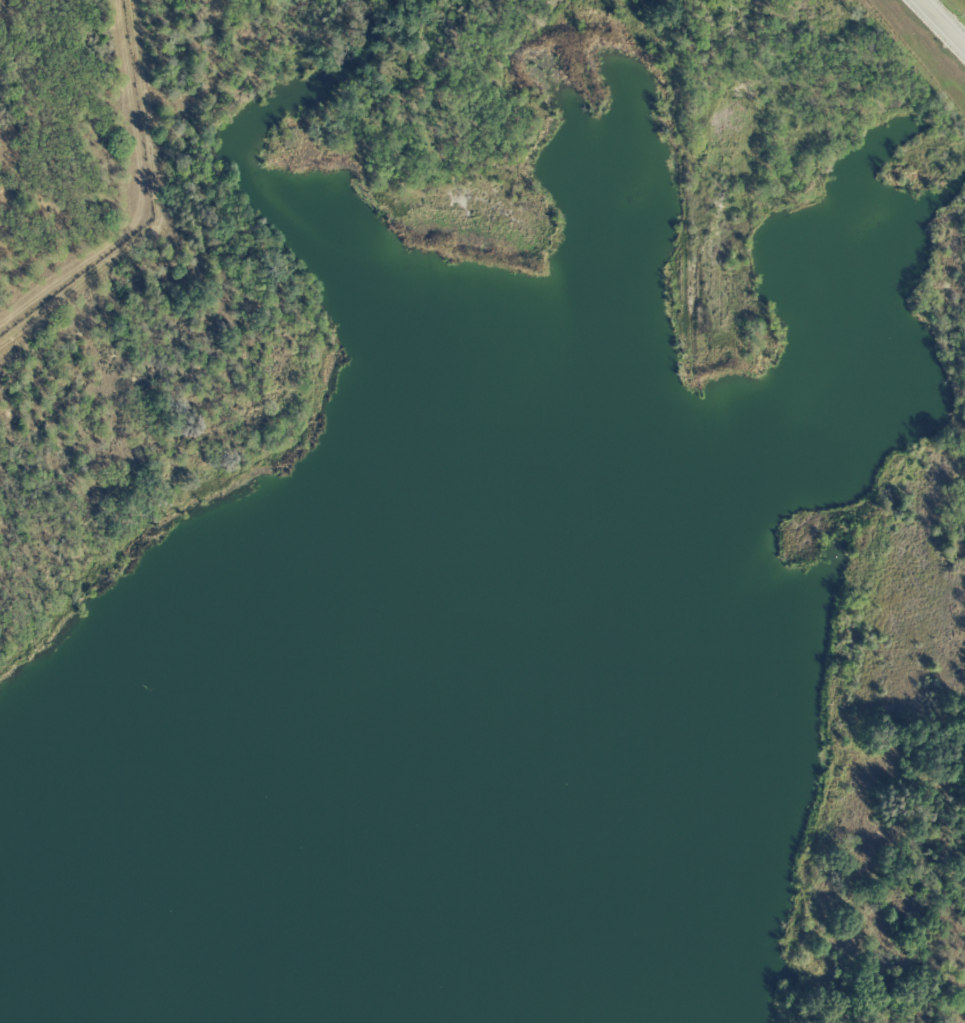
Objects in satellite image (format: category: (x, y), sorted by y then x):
road: (941, 24)

